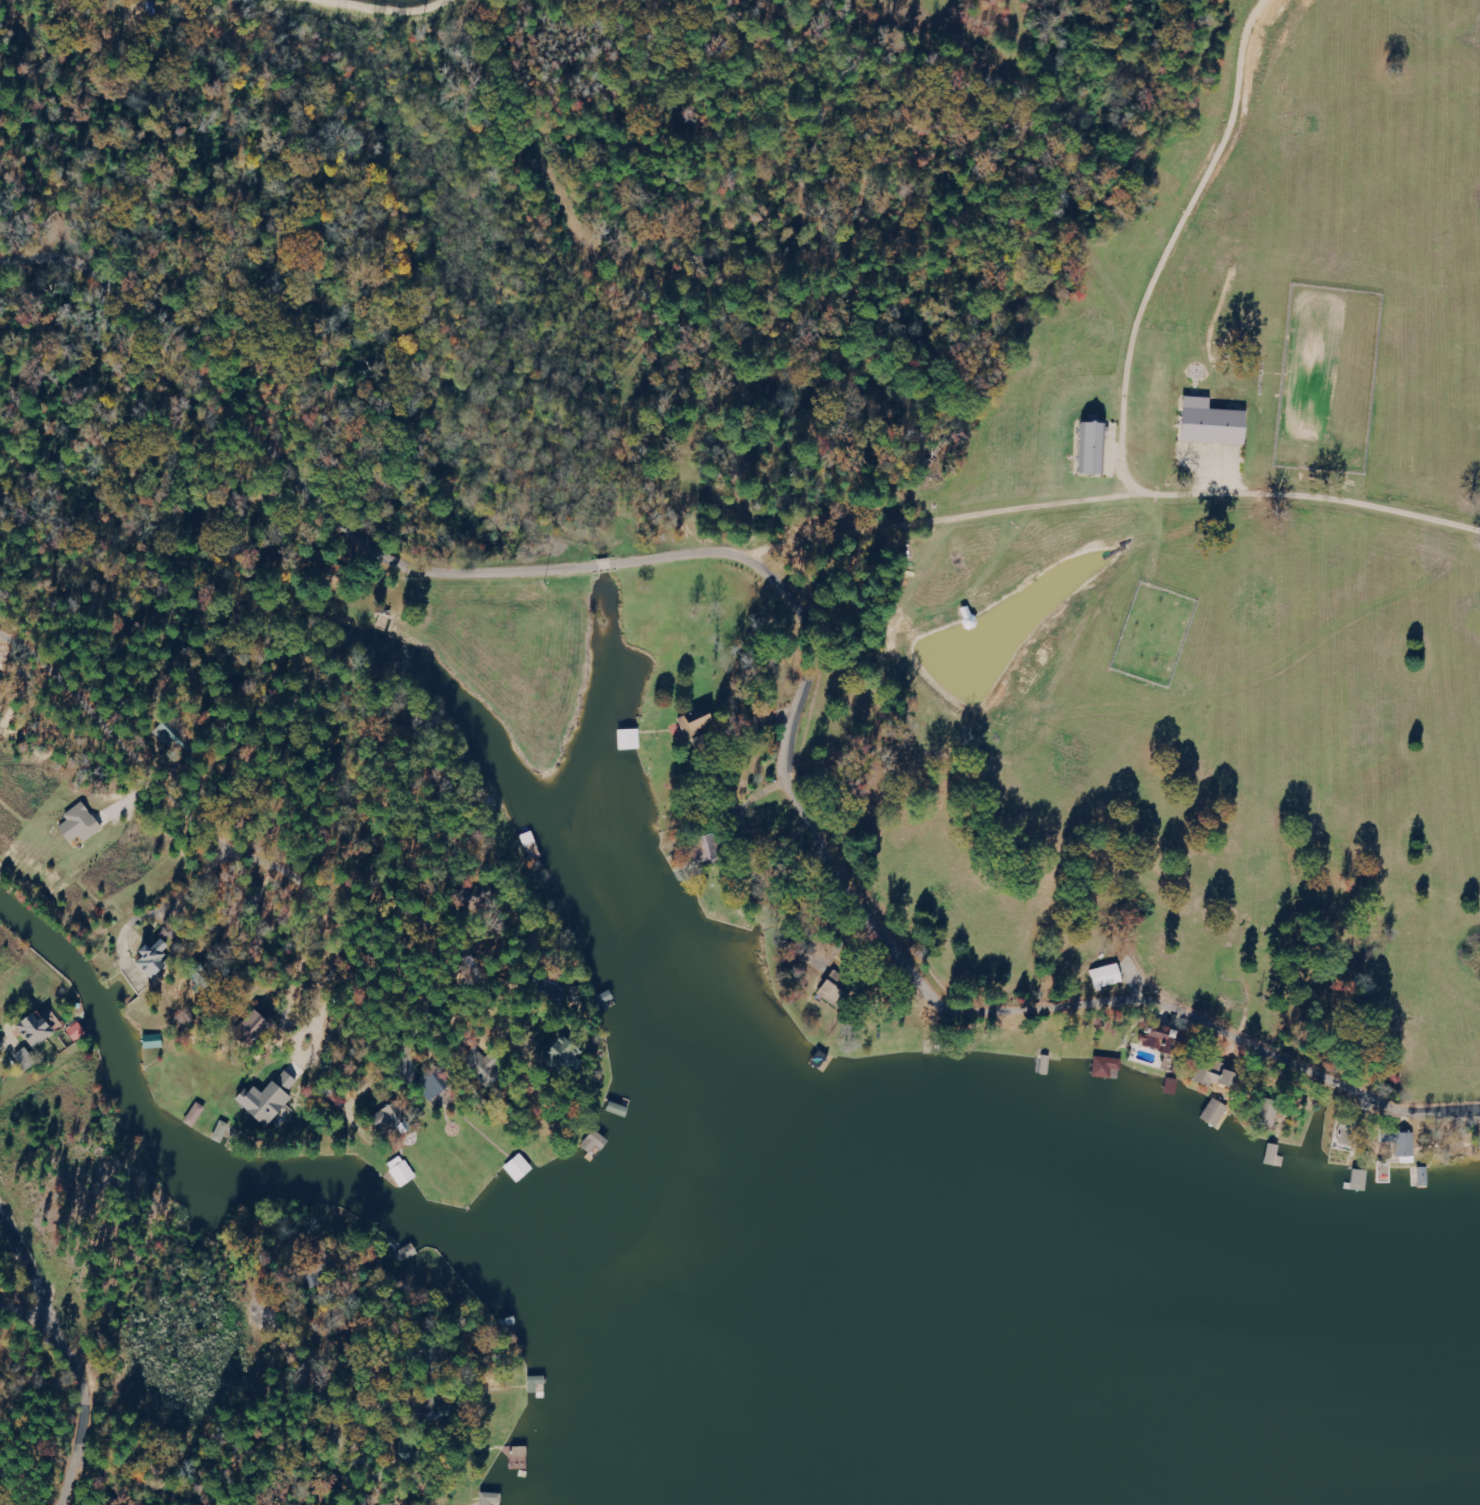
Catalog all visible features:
road: (34, 302)
building: (1218, 424)
building: (1098, 449)
road: (730, 660)
building: (702, 723)
building: (84, 823)
building: (715, 850)
road: (837, 858)
road: (792, 916)
road: (301, 945)
building: (159, 958)
building: (1104, 976)
building: (42, 1029)
building: (79, 1032)
building: (156, 1042)
building: (1154, 1042)
building: (29, 1059)
building: (1103, 1067)
building: (492, 1068)
building: (1210, 1073)
building: (438, 1085)
building: (273, 1099)
building: (1268, 1113)
building: (198, 1115)
building: (394, 1118)
building: (1404, 1148)
building: (404, 1171)
road: (298, 1335)
road: (74, 1429)
road: (319, 1459)
road: (121, 1497)
building: (494, 1499)

